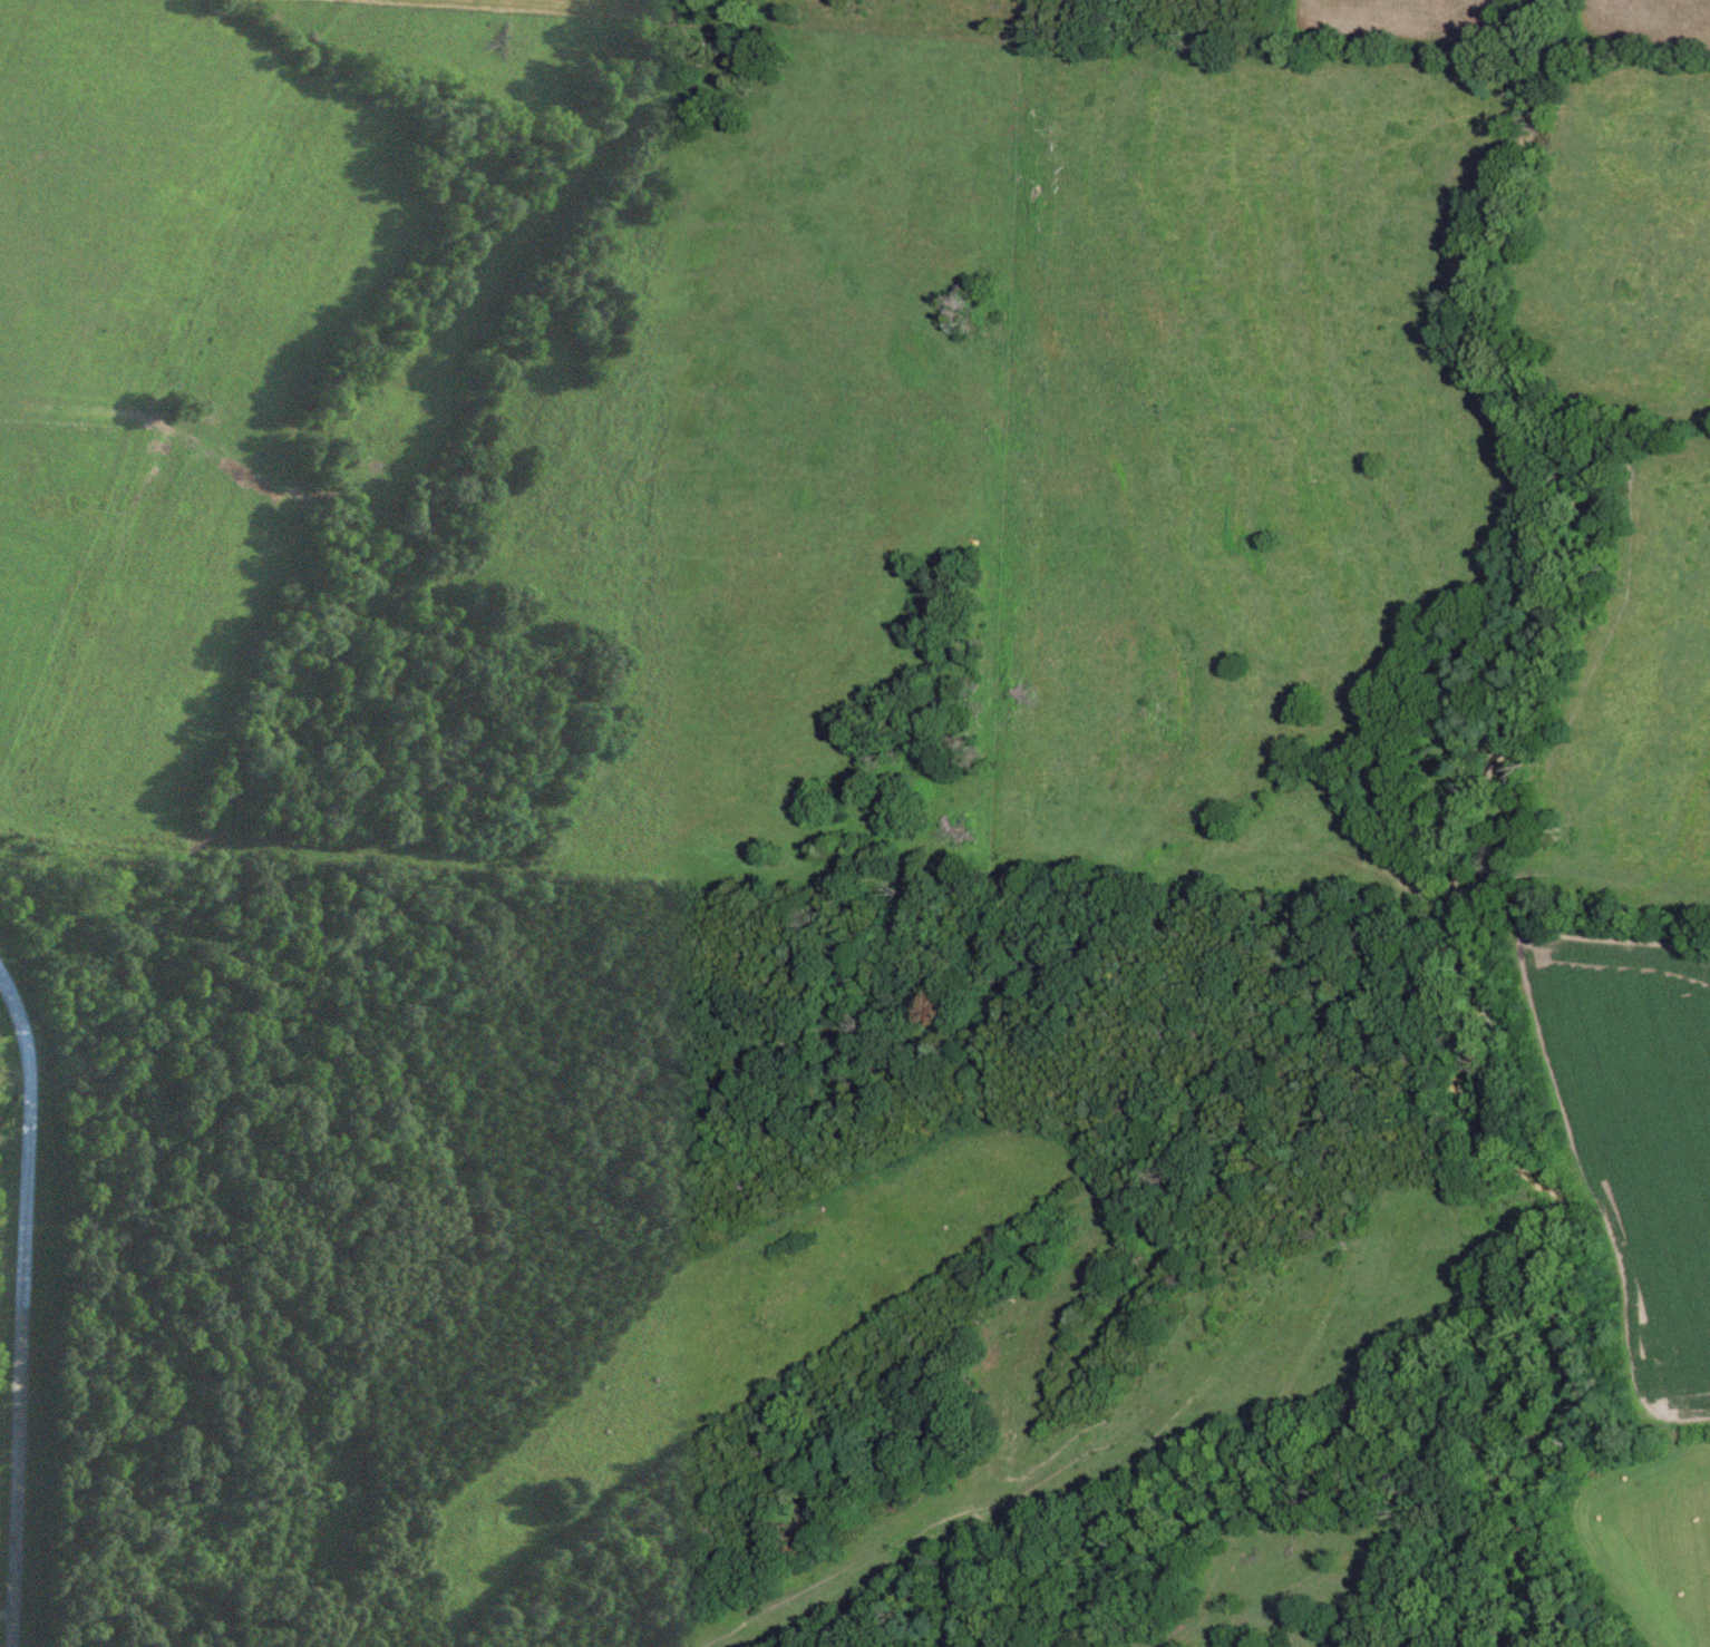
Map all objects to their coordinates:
road: (28, 1309)
road: (11, 1614)

